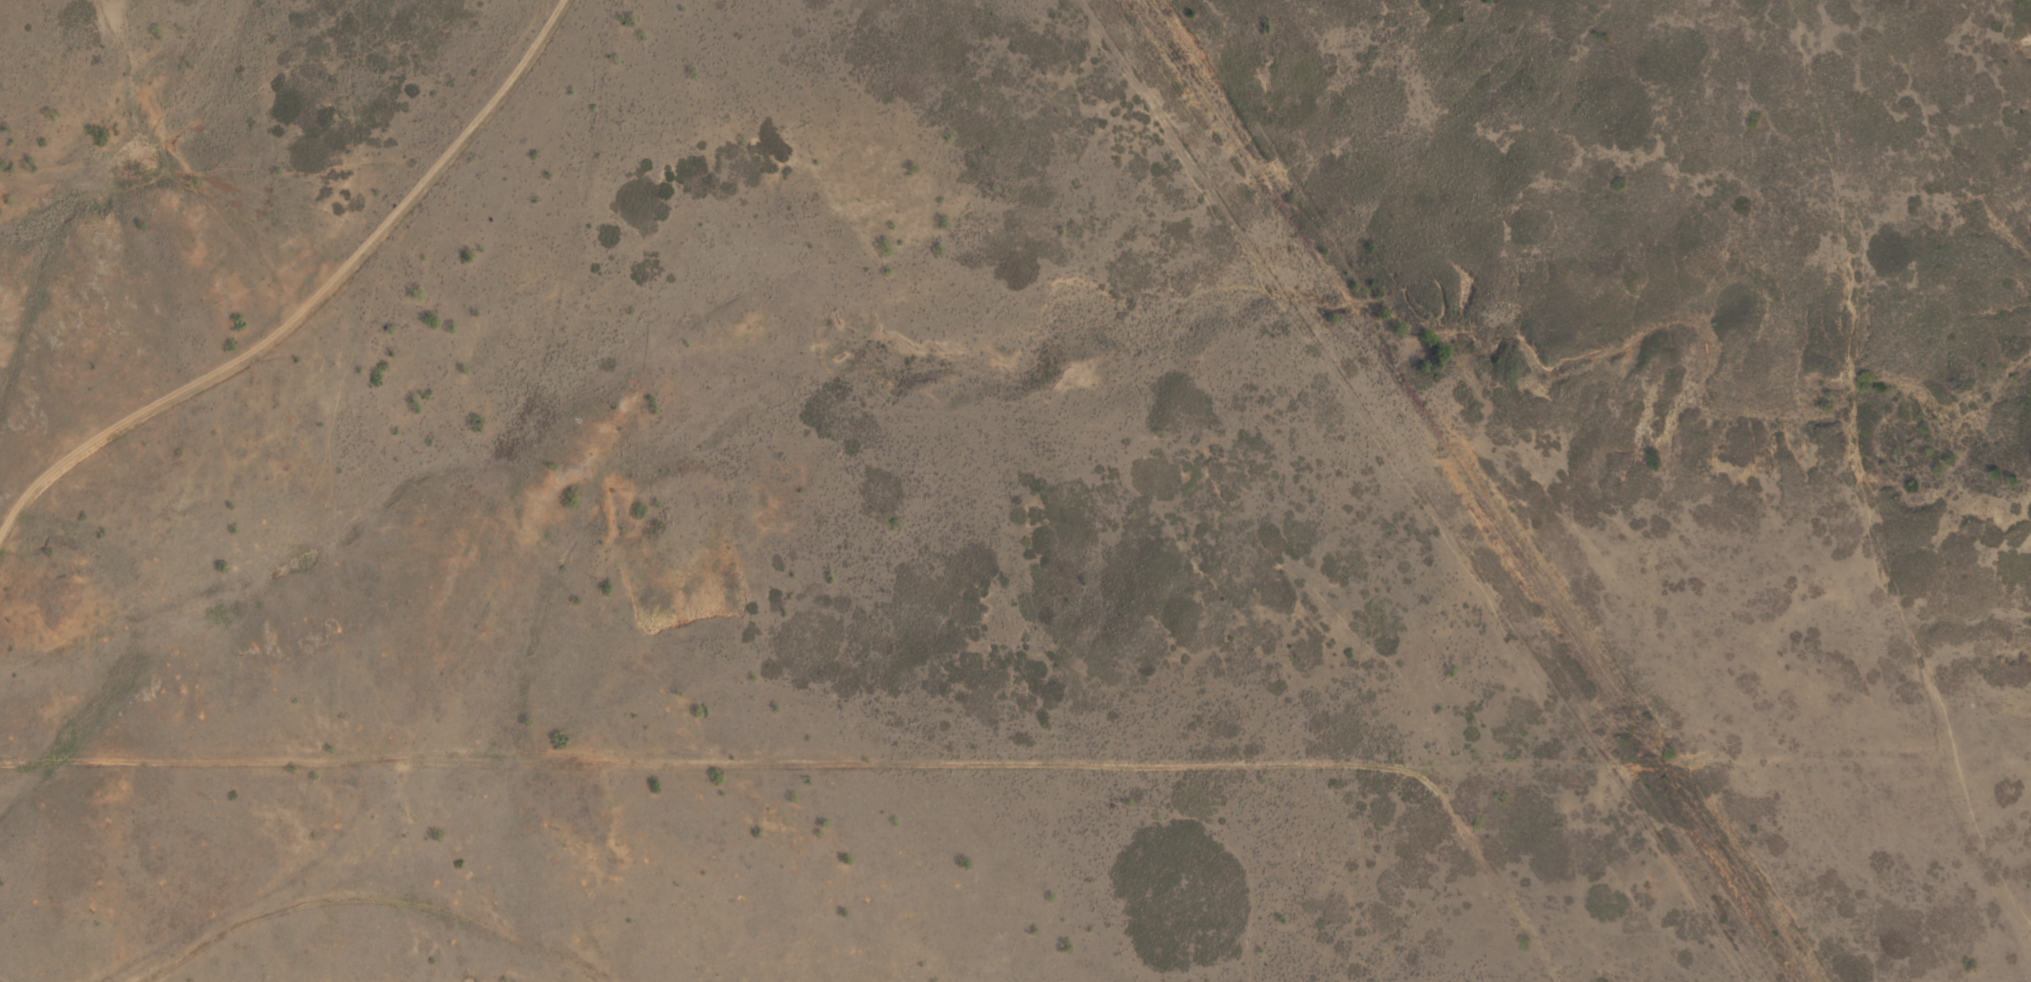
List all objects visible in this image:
railway: (1472, 490)

